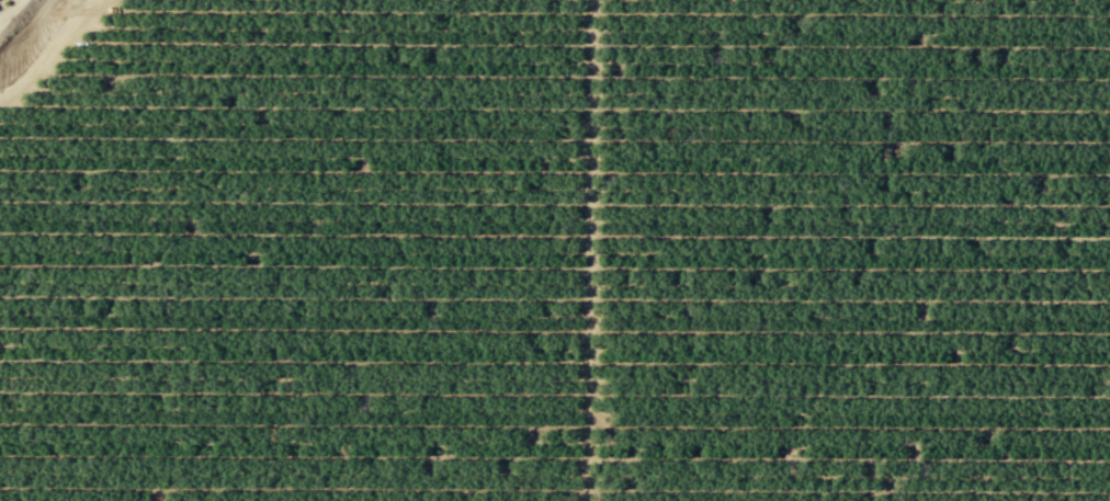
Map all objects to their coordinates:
road: (8, 8)
road: (50, 50)
road: (589, 250)

